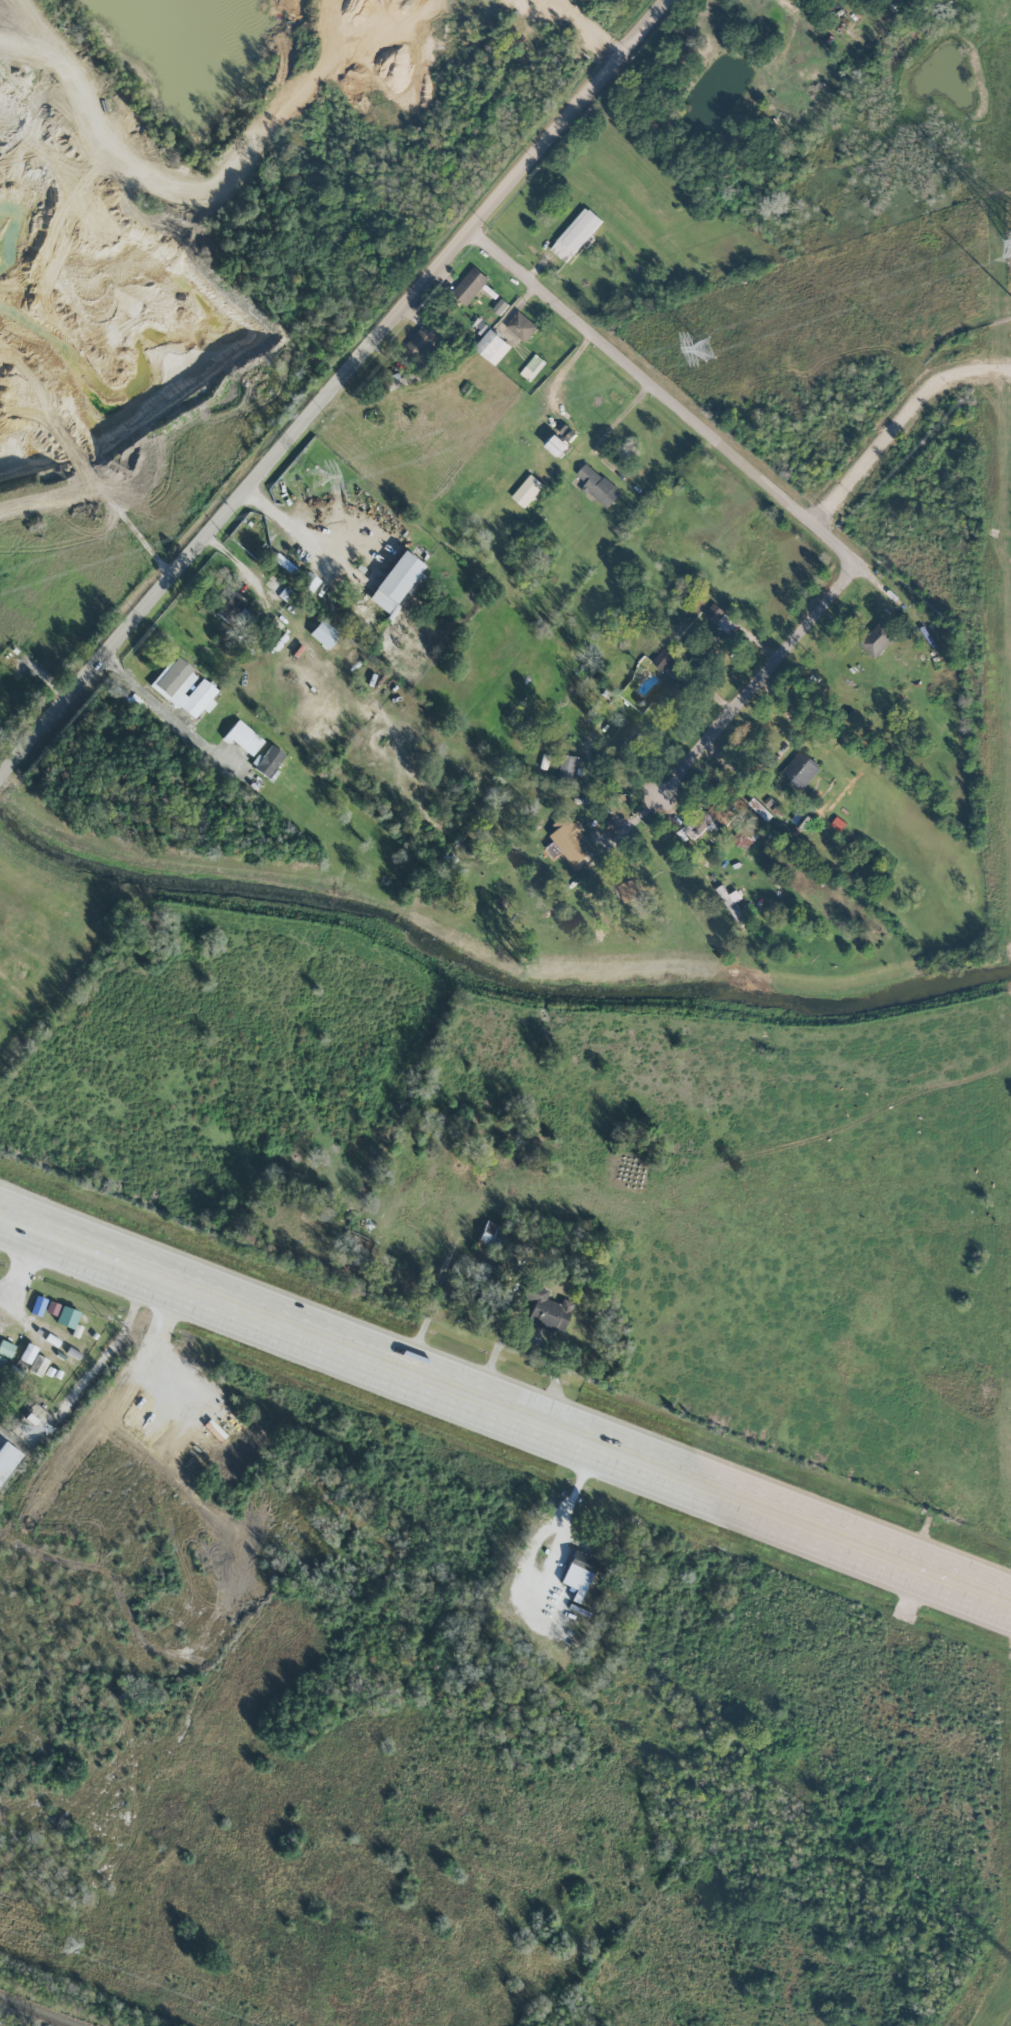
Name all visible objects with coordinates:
road: (586, 30)
building: (575, 234)
building: (469, 285)
building: (520, 326)
building: (424, 338)
building: (492, 346)
power tower: (706, 347)
building: (532, 367)
road: (337, 385)
road: (660, 399)
road: (896, 421)
building: (561, 439)
road: (611, 468)
power tower: (313, 475)
building: (597, 486)
building: (527, 490)
road: (106, 495)
road: (301, 533)
building: (395, 581)
road: (886, 596)
building: (233, 607)
building: (713, 613)
building: (727, 624)
building: (324, 633)
building: (878, 639)
building: (662, 659)
building: (184, 688)
building: (665, 692)
road: (751, 693)
road: (161, 705)
building: (627, 736)
building: (244, 737)
building: (267, 760)
building: (568, 768)
building: (799, 770)
road: (2, 772)
road: (138, 772)
road: (592, 796)
building: (760, 809)
building: (721, 812)
building: (800, 819)
building: (744, 836)
building: (571, 840)
building: (629, 890)
building: (490, 1235)
road: (23, 1264)
building: (20, 1298)
building: (38, 1305)
building: (546, 1311)
building: (67, 1317)
building: (4, 1326)
building: (54, 1341)
building: (6, 1348)
road: (112, 1348)
building: (27, 1353)
building: (1, 1361)
building: (38, 1365)
road: (505, 1413)
building: (6, 1456)
building: (578, 1572)
power tower: (65, 1948)
railway: (35, 2012)

